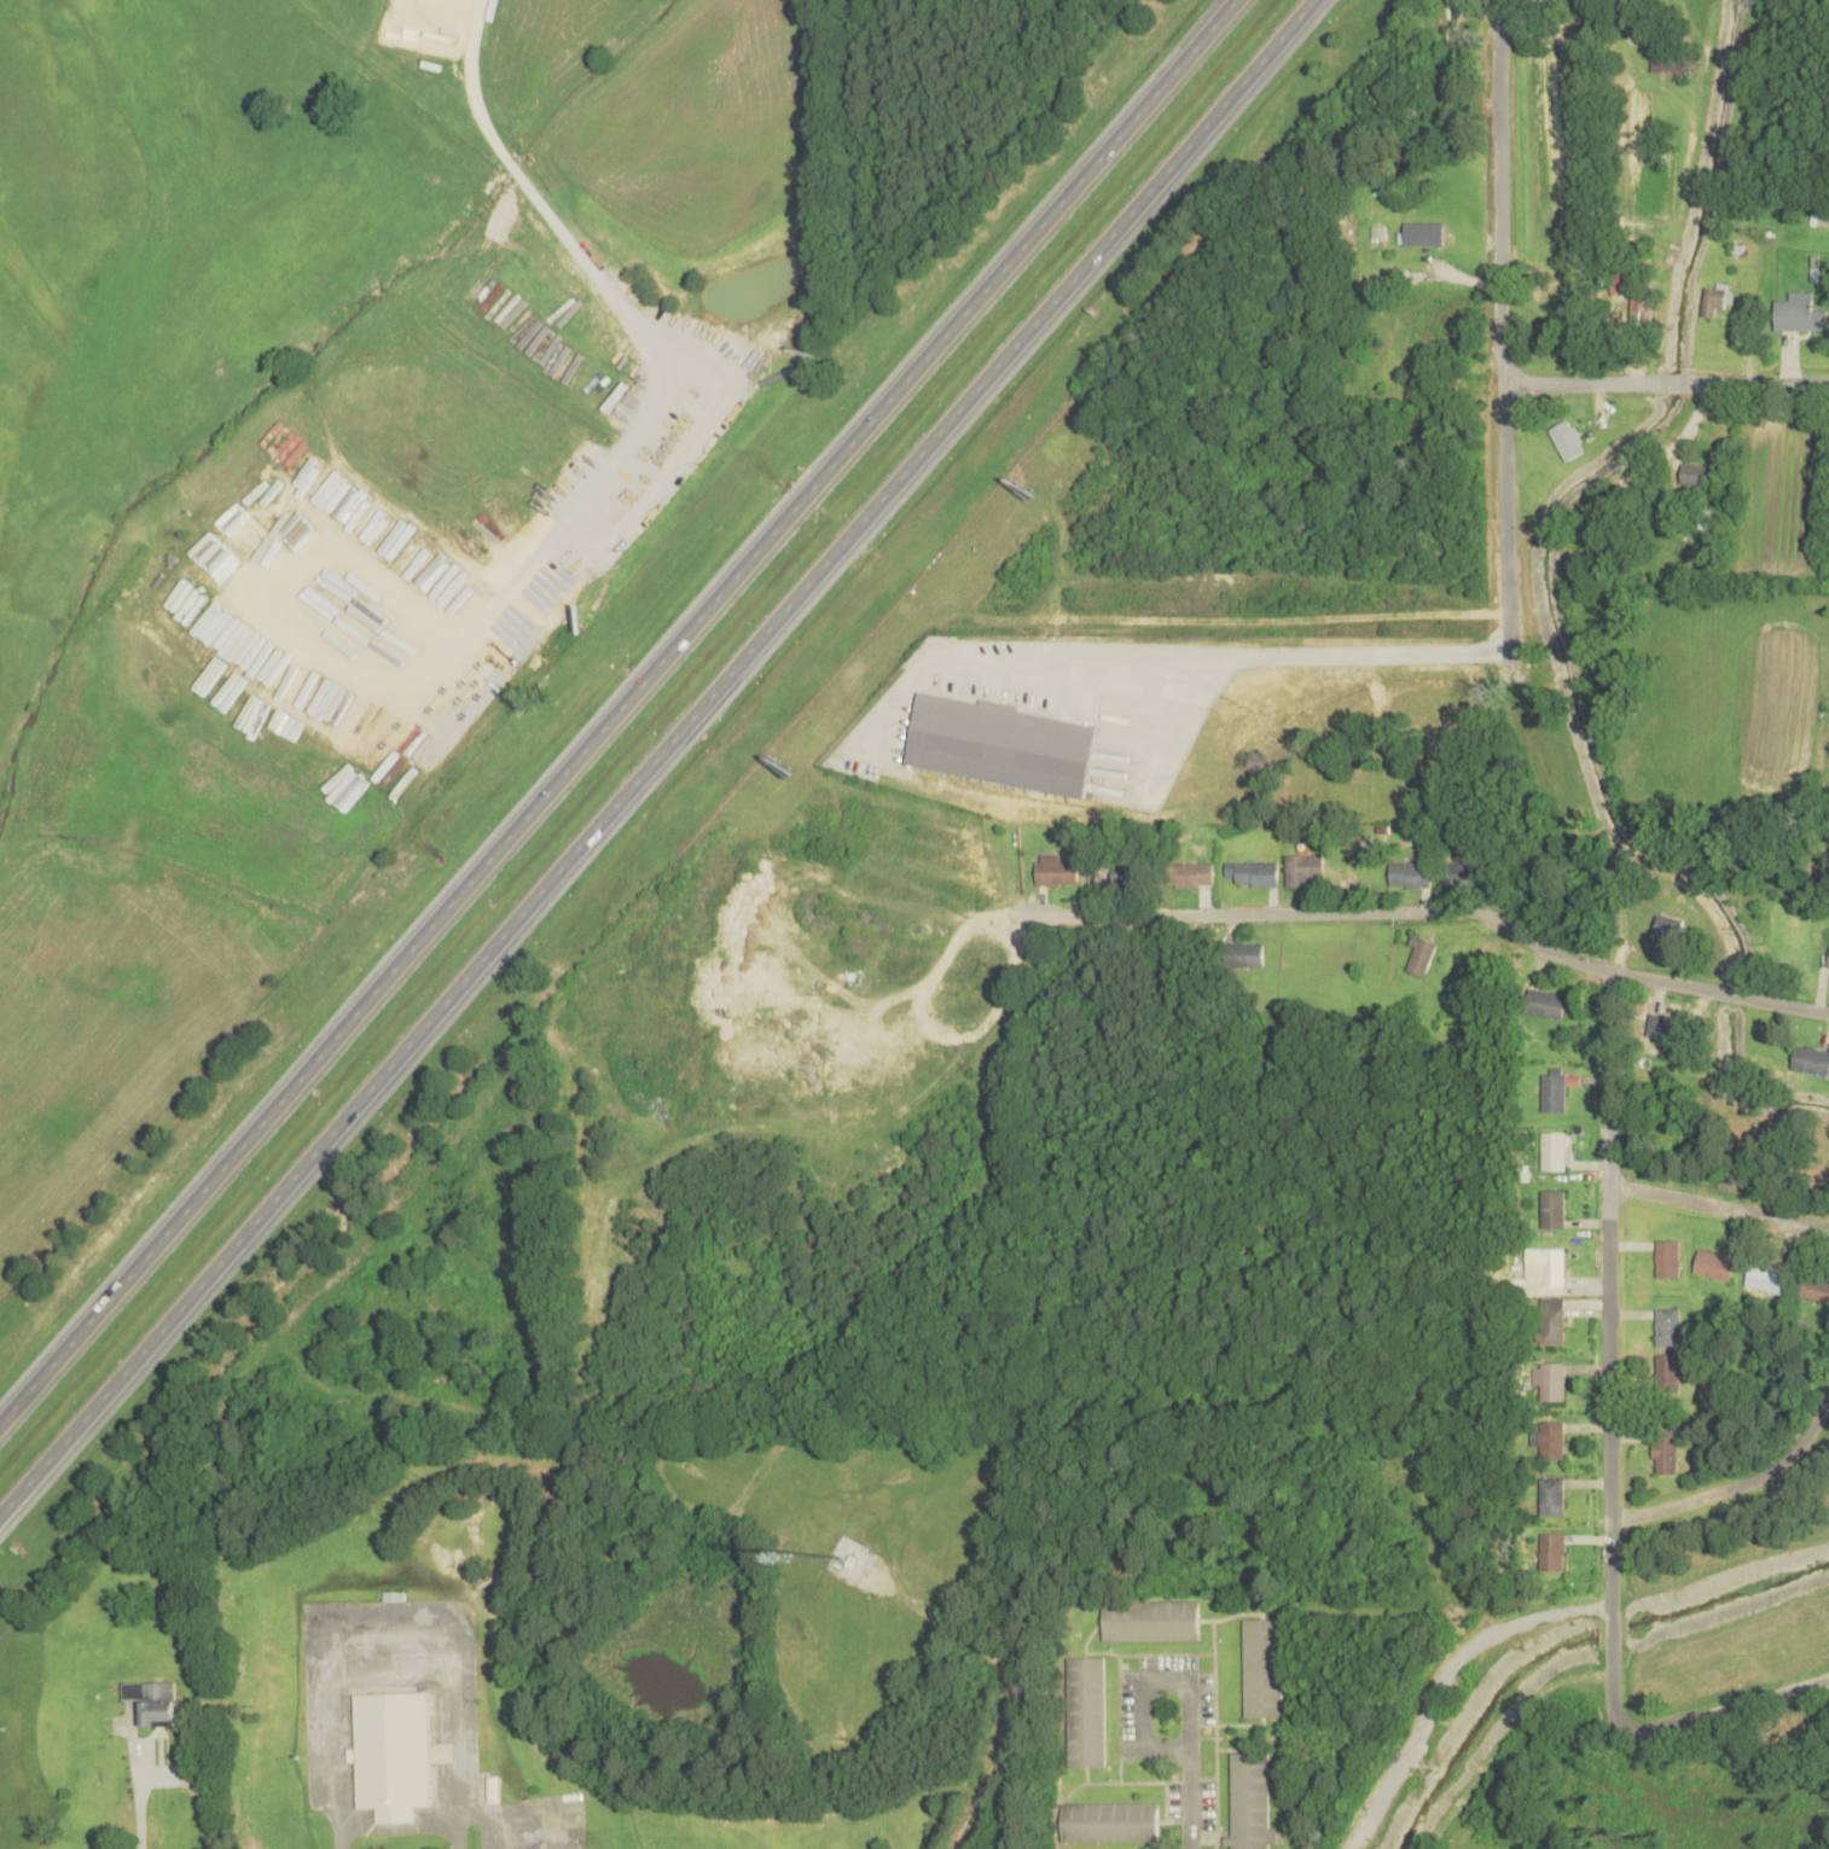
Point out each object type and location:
building: (1451, 18)
building: (1667, 56)
building: (1419, 229)
building: (1711, 297)
road: (1047, 298)
building: (1639, 300)
building: (1796, 310)
road: (1499, 326)
road: (637, 331)
building: (1620, 347)
road: (1665, 379)
building: (1564, 437)
building: (1692, 471)
building: (1702, 516)
building: (1601, 535)
road: (267, 582)
road: (1217, 617)
road: (1224, 655)
road: (617, 713)
building: (994, 743)
building: (1300, 866)
building: (1053, 867)
building: (1250, 870)
building: (1185, 871)
building: (1122, 872)
building: (1407, 872)
road: (1445, 907)
building: (1665, 924)
building: (1241, 950)
building: (1417, 952)
building: (1828, 957)
building: (1828, 967)
building: (1544, 1000)
building: (1661, 1024)
road: (393, 1053)
building: (1810, 1058)
building: (1551, 1087)
building: (1550, 1149)
road: (1718, 1204)
building: (1550, 1206)
building: (1666, 1255)
building: (1713, 1262)
building: (1543, 1268)
building: (1764, 1274)
building: (1815, 1286)
building: (1550, 1318)
building: (1666, 1324)
road: (1608, 1331)
building: (1666, 1372)
building: (1548, 1377)
building: (1546, 1436)
building: (1662, 1448)
road: (1741, 1481)
building: (1548, 1493)
building: (1550, 1549)
building: (1148, 1617)
building: (1260, 1665)
road: (1006, 1682)
road: (1185, 1686)
building: (153, 1702)
building: (1080, 1709)
road: (1711, 1710)
building: (391, 1750)
building: (1248, 1799)
road: (1189, 1801)
building: (1105, 1818)

